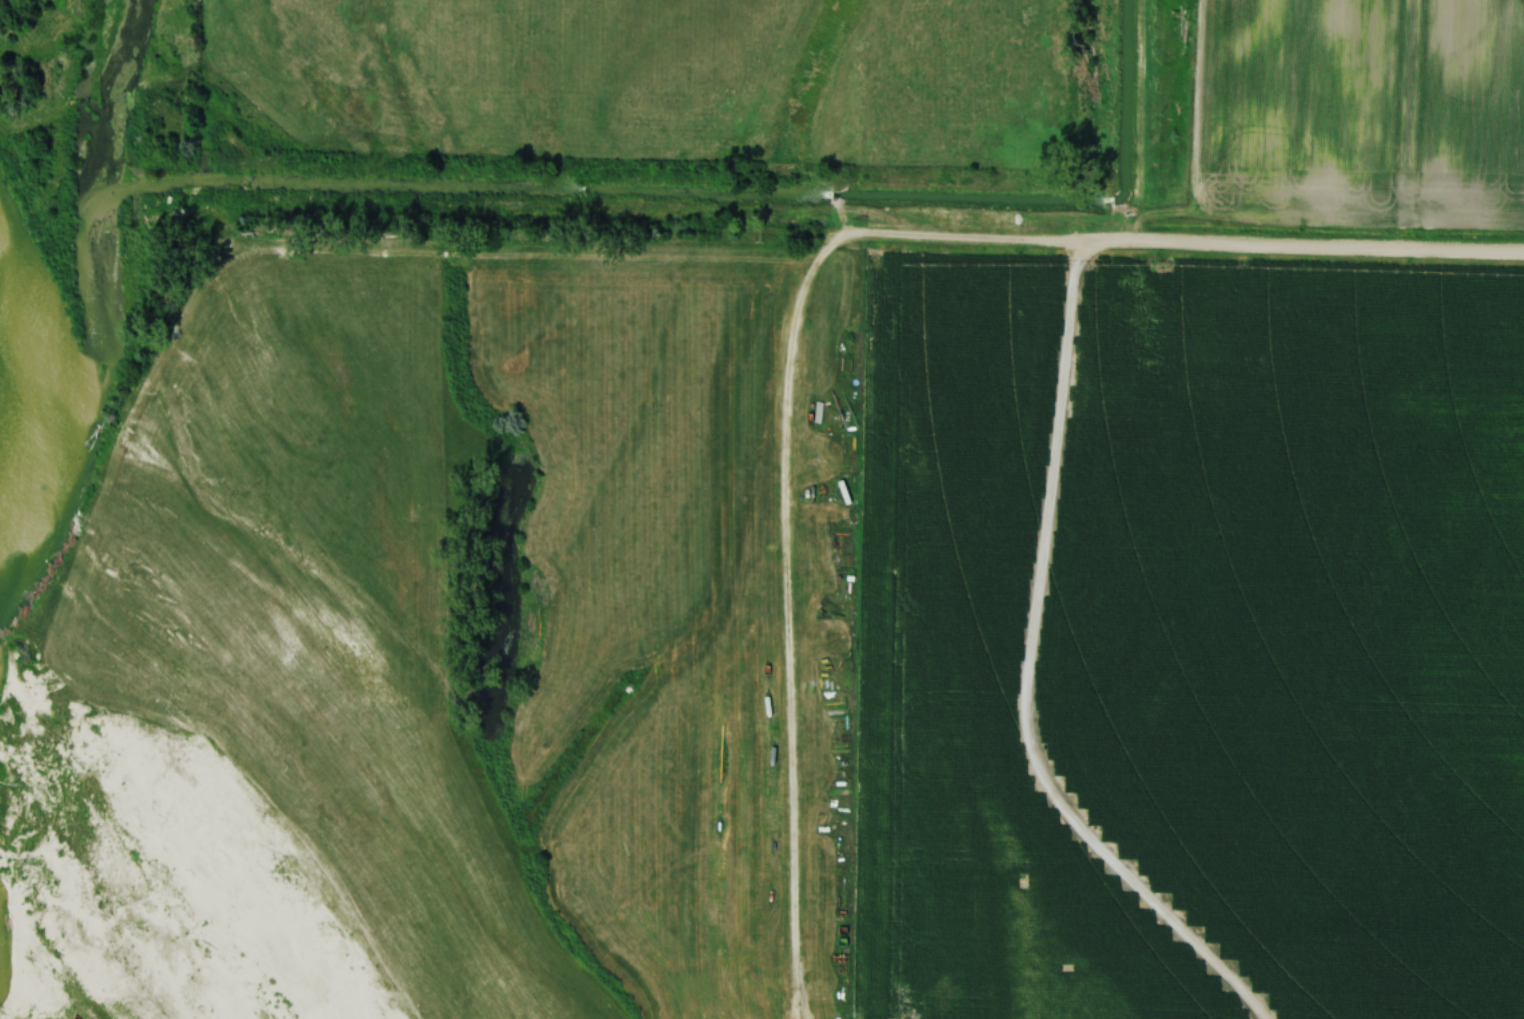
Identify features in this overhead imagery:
road: (1405, 126)
road: (869, 242)
road: (1032, 671)

